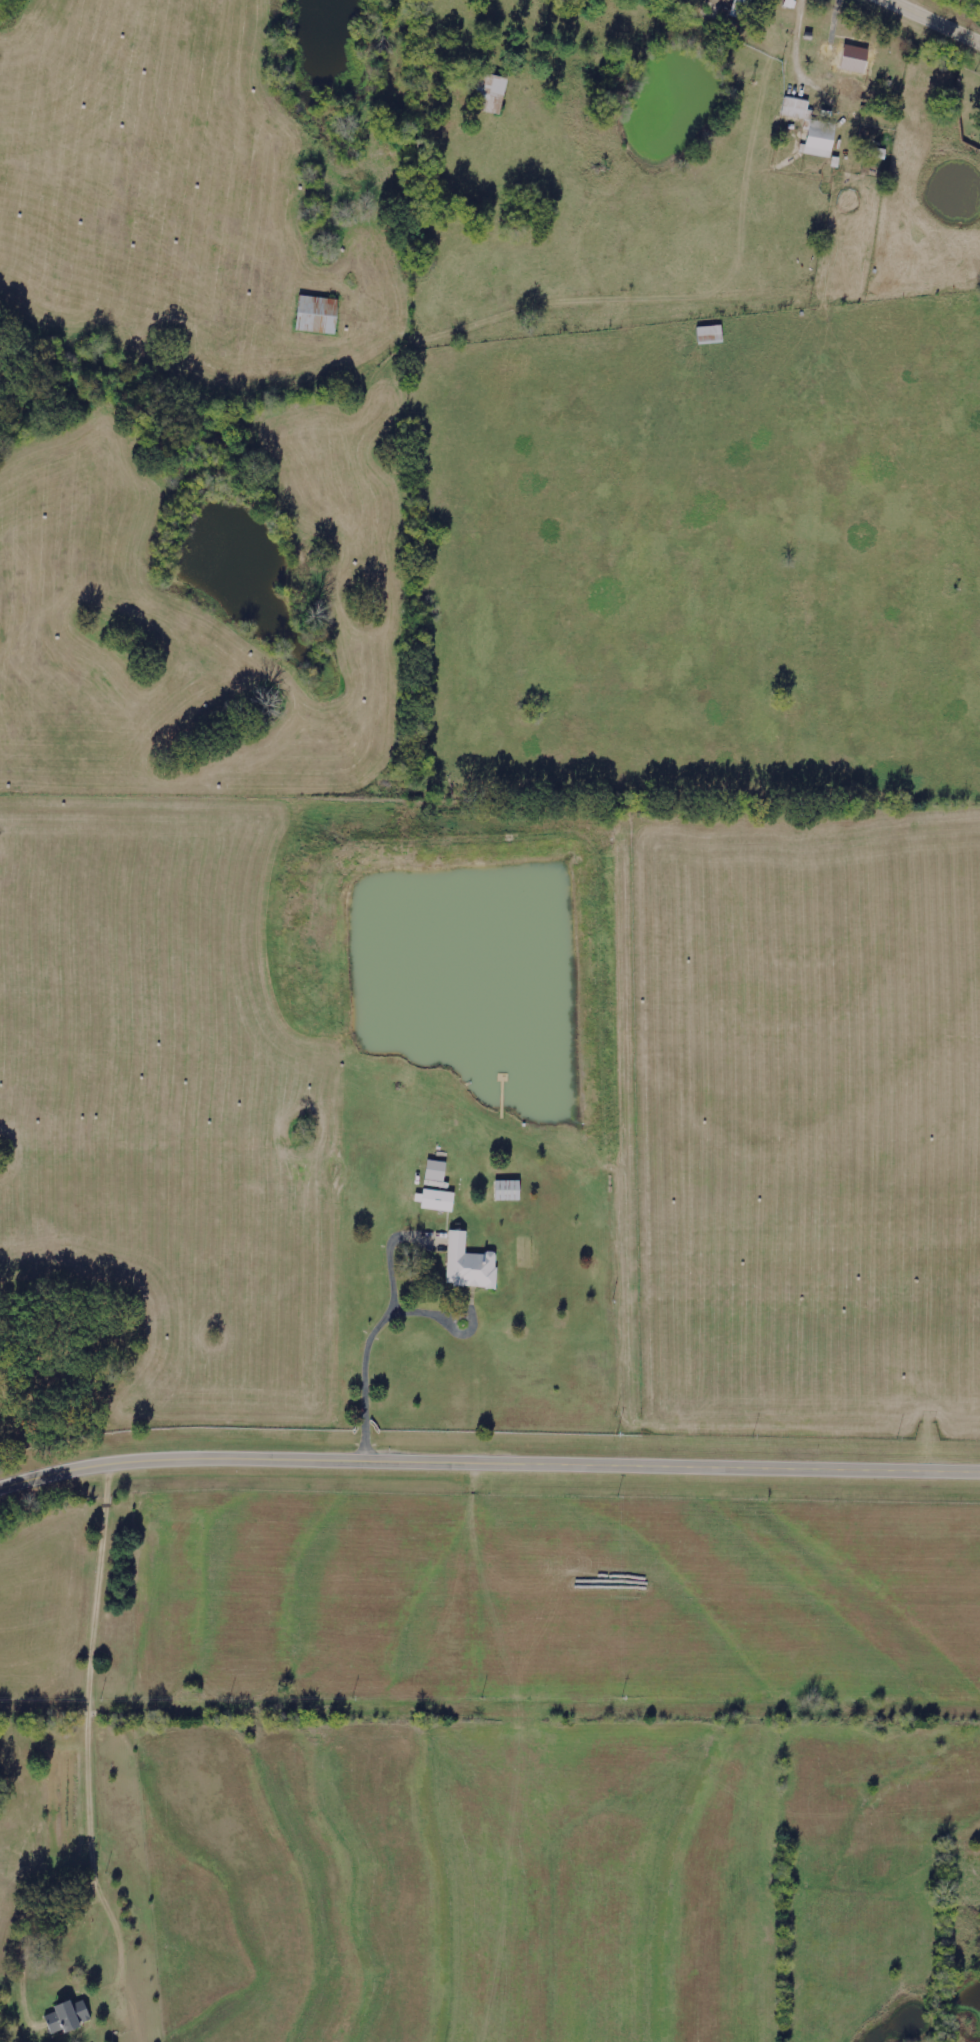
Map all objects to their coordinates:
building: (741, 7)
road: (931, 22)
building: (492, 93)
building: (797, 109)
building: (820, 139)
building: (318, 315)
building: (508, 1190)
building: (469, 1264)
road: (488, 1468)
building: (68, 2018)

